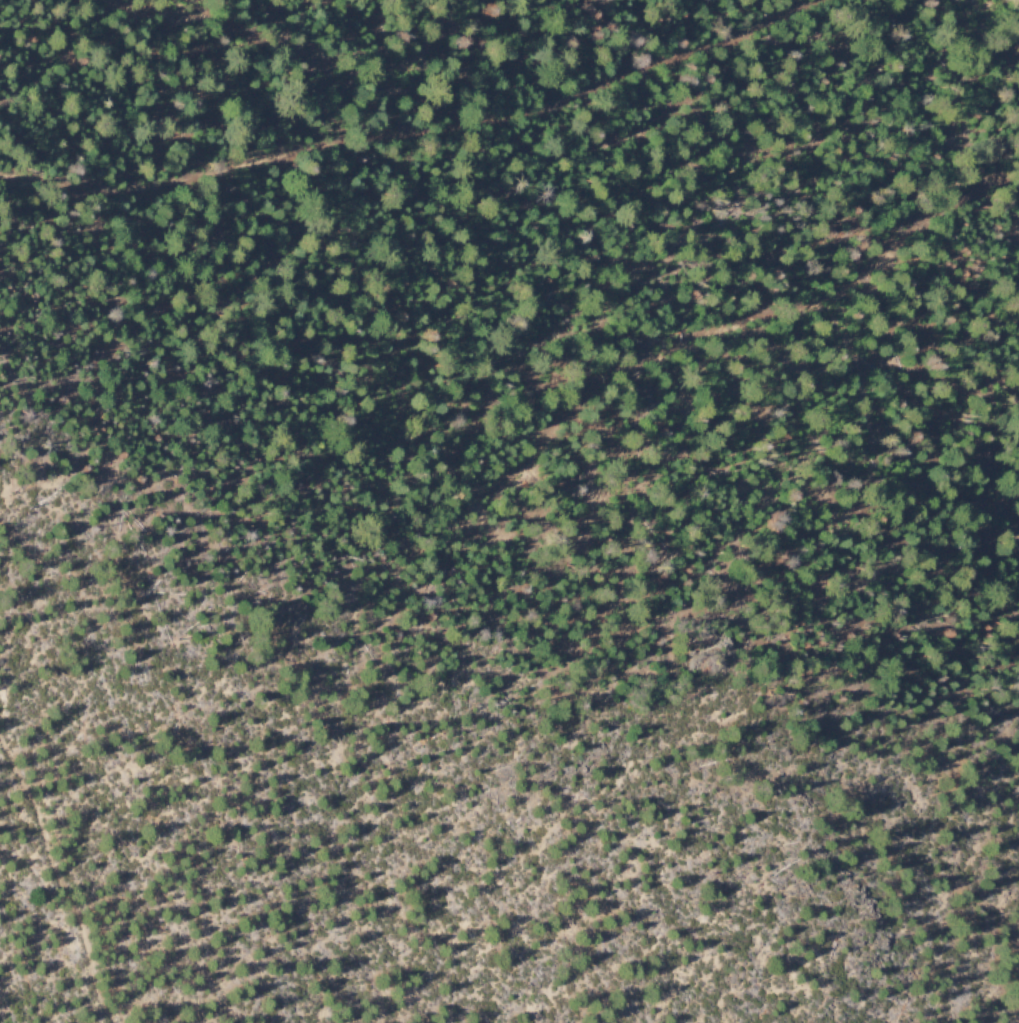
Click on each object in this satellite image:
road: (302, 48)
road: (418, 132)
road: (63, 885)

